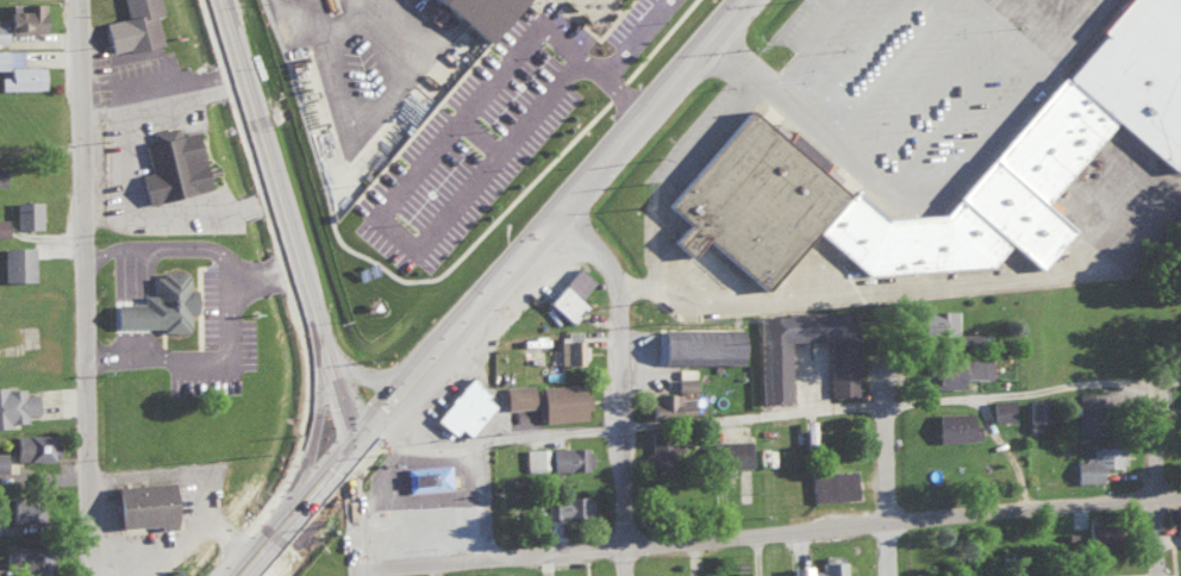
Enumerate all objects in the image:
road: (1087, 8)
building: (498, 13)
building: (20, 18)
road: (719, 19)
road: (410, 20)
road: (367, 24)
parking lot: (646, 24)
building: (131, 25)
road: (1030, 27)
road: (660, 29)
road: (610, 37)
road: (805, 45)
road: (846, 58)
road: (626, 67)
building: (18, 70)
road: (886, 70)
parking lot: (921, 77)
road: (621, 81)
road: (926, 84)
road: (451, 102)
road: (955, 108)
road: (629, 123)
road: (493, 137)
parking lot: (487, 139)
building: (1051, 142)
road: (267, 156)
building: (171, 162)
building: (0, 174)
road: (140, 177)
road: (923, 193)
building: (25, 212)
road: (390, 215)
building: (2, 225)
road: (196, 246)
building: (15, 261)
road: (129, 273)
road: (455, 273)
road: (490, 282)
road: (85, 287)
building: (569, 294)
road: (908, 294)
building: (157, 302)
road: (129, 313)
building: (936, 320)
road: (319, 327)
road: (130, 339)
building: (699, 344)
building: (568, 350)
road: (195, 357)
road: (373, 364)
building: (773, 365)
building: (956, 368)
road: (617, 378)
road: (338, 394)
building: (517, 394)
road: (386, 400)
building: (561, 400)
building: (669, 402)
building: (14, 403)
road: (829, 405)
building: (463, 406)
building: (1000, 408)
building: (1035, 409)
building: (1087, 411)
road: (310, 422)
building: (954, 425)
building: (806, 430)
road: (477, 440)
building: (33, 445)
traffic signals: (349, 446)
building: (661, 450)
building: (729, 451)
building: (569, 456)
building: (535, 457)
building: (1, 461)
building: (1098, 461)
road: (377, 470)
road: (883, 471)
road: (170, 474)
building: (426, 475)
road: (1154, 477)
building: (831, 483)
road: (312, 487)
building: (142, 502)
building: (568, 505)
building: (25, 506)
road: (352, 511)
building: (452, 511)
road: (195, 527)
building: (398, 527)
building: (1095, 531)
road: (767, 532)
road: (258, 552)
road: (755, 555)
building: (831, 564)
building: (666, 574)
building: (1064, 575)

